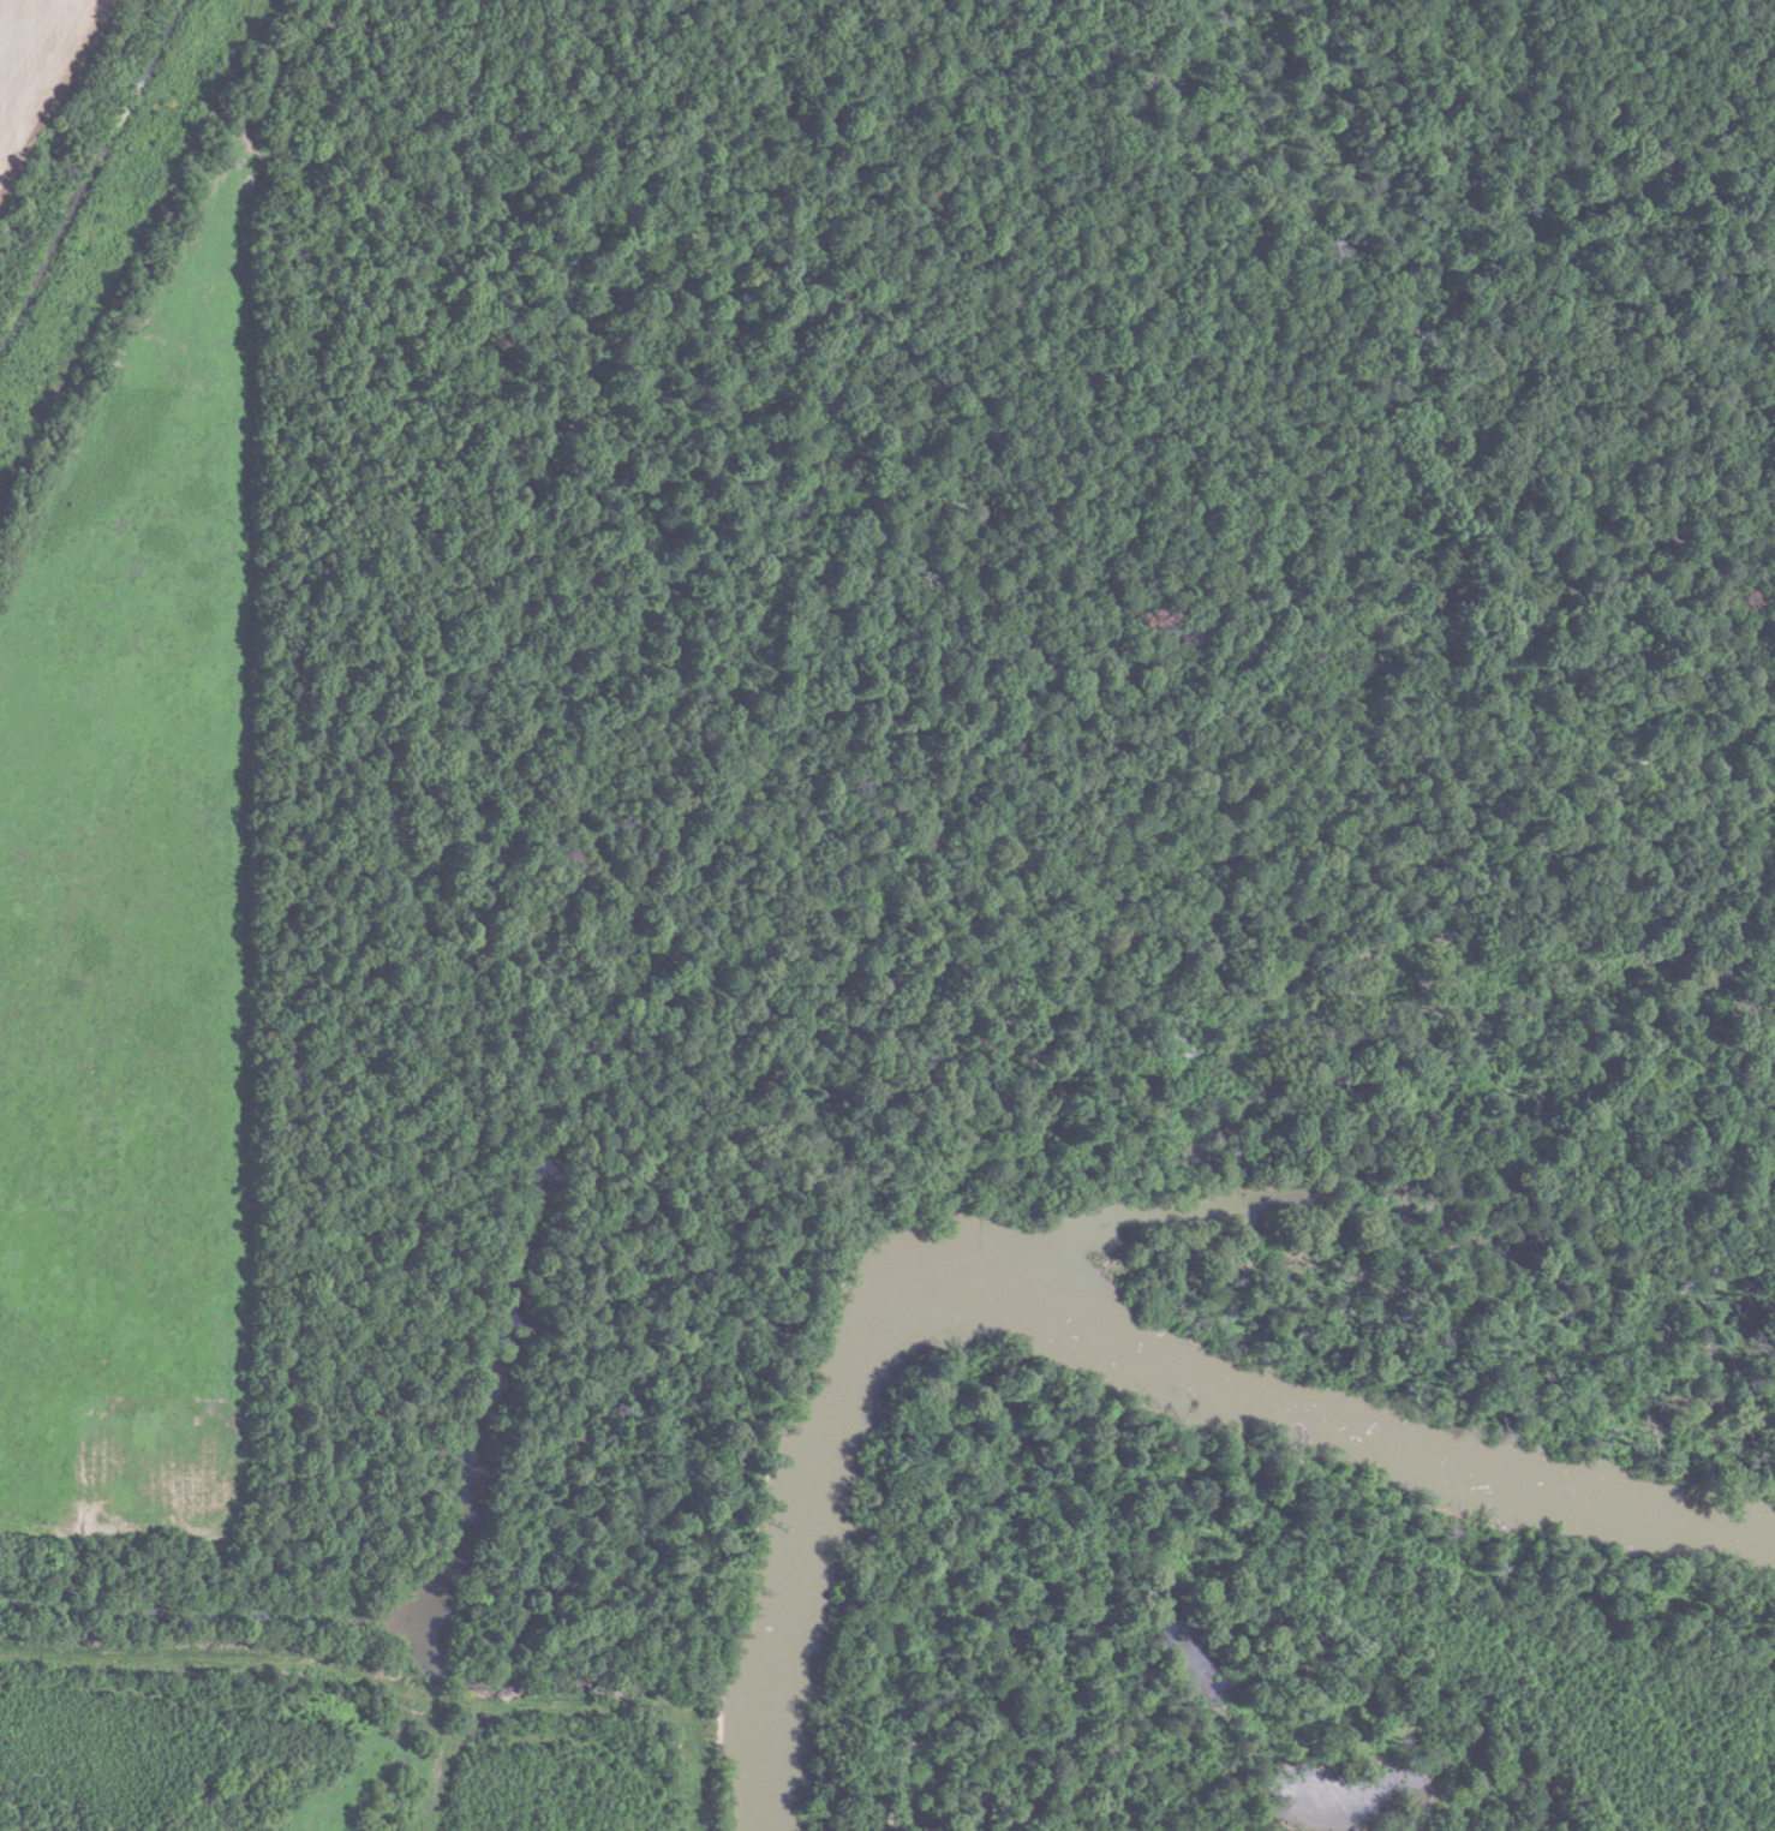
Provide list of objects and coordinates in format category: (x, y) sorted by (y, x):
river: (1068, 1340)

